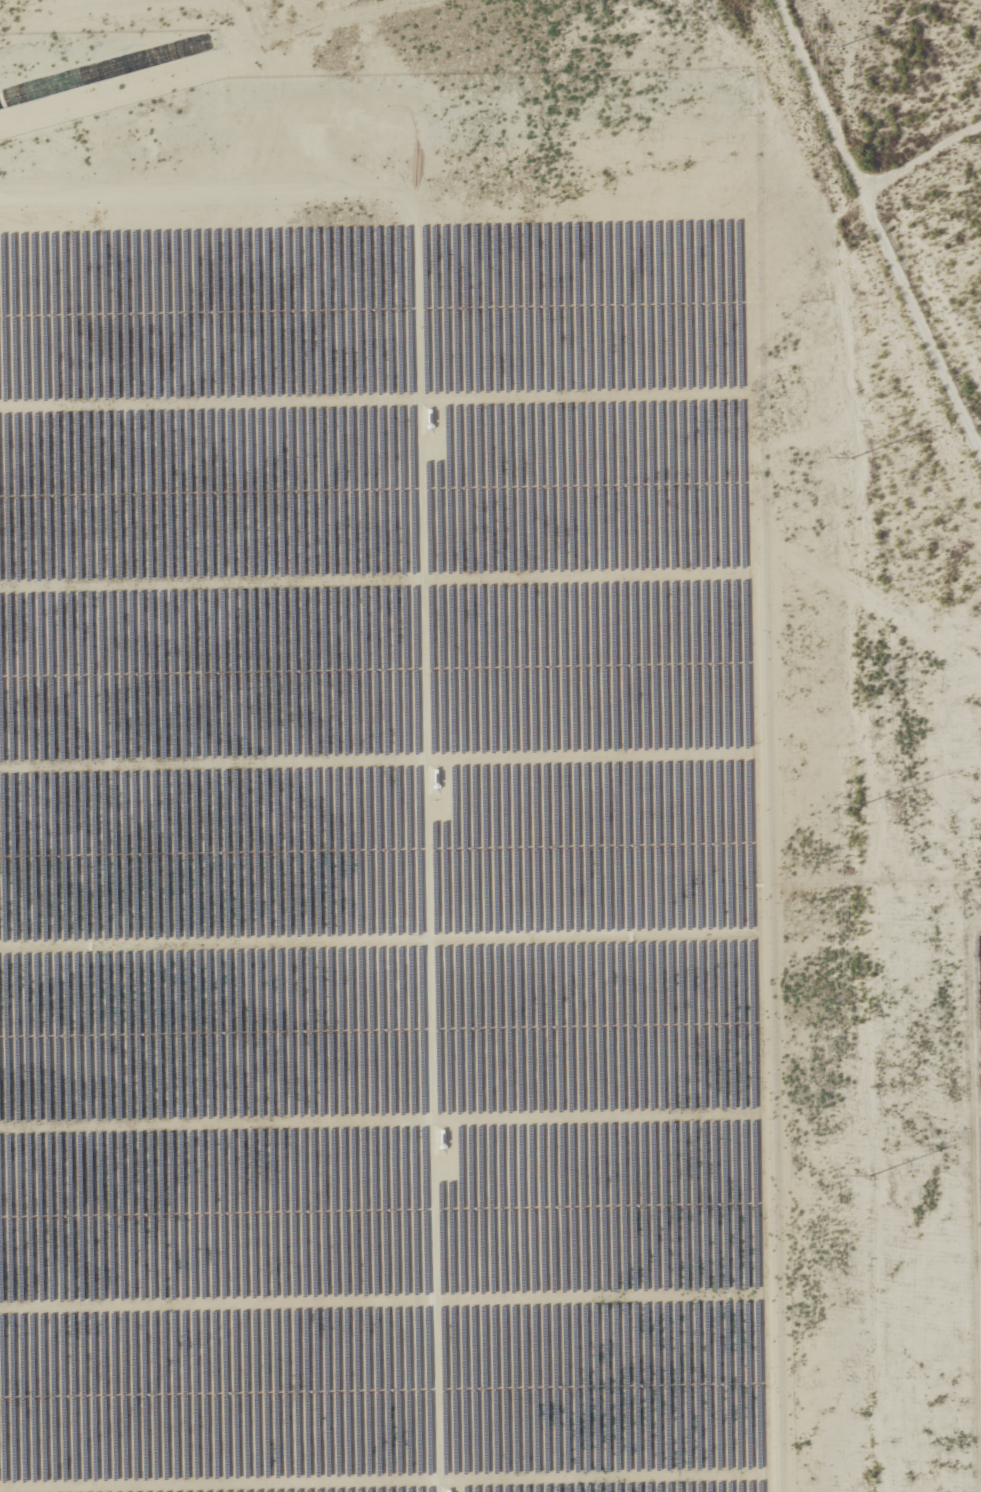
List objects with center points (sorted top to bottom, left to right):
power tower: (840, 48)
road: (923, 155)
road: (883, 224)
power tower: (851, 459)
power tower: (860, 806)
power tower: (868, 1177)

